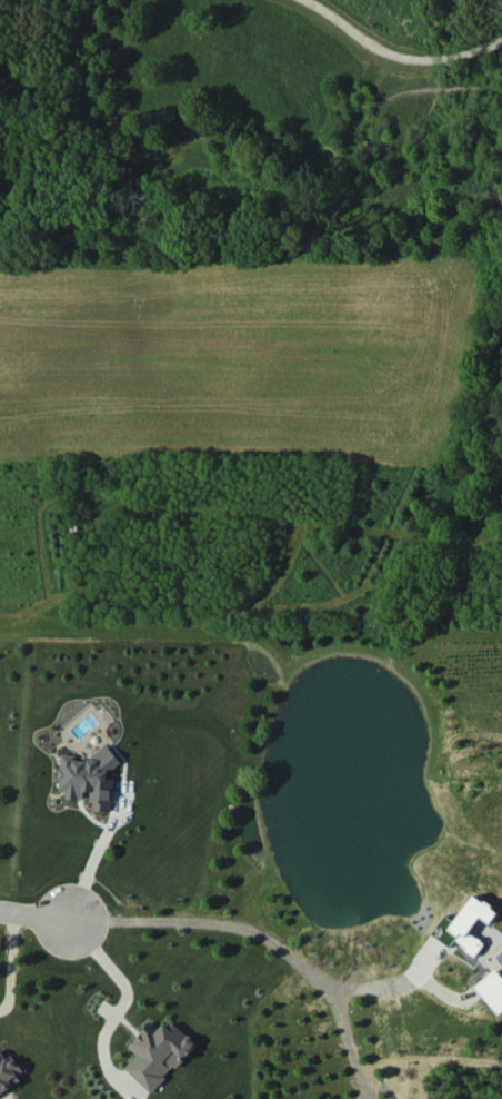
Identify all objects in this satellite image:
road: (395, 53)
building: (88, 778)
road: (96, 849)
road: (32, 909)
building: (470, 922)
road: (259, 945)
road: (9, 957)
road: (383, 987)
building: (491, 989)
road: (117, 1004)
building: (157, 1052)
building: (9, 1070)

